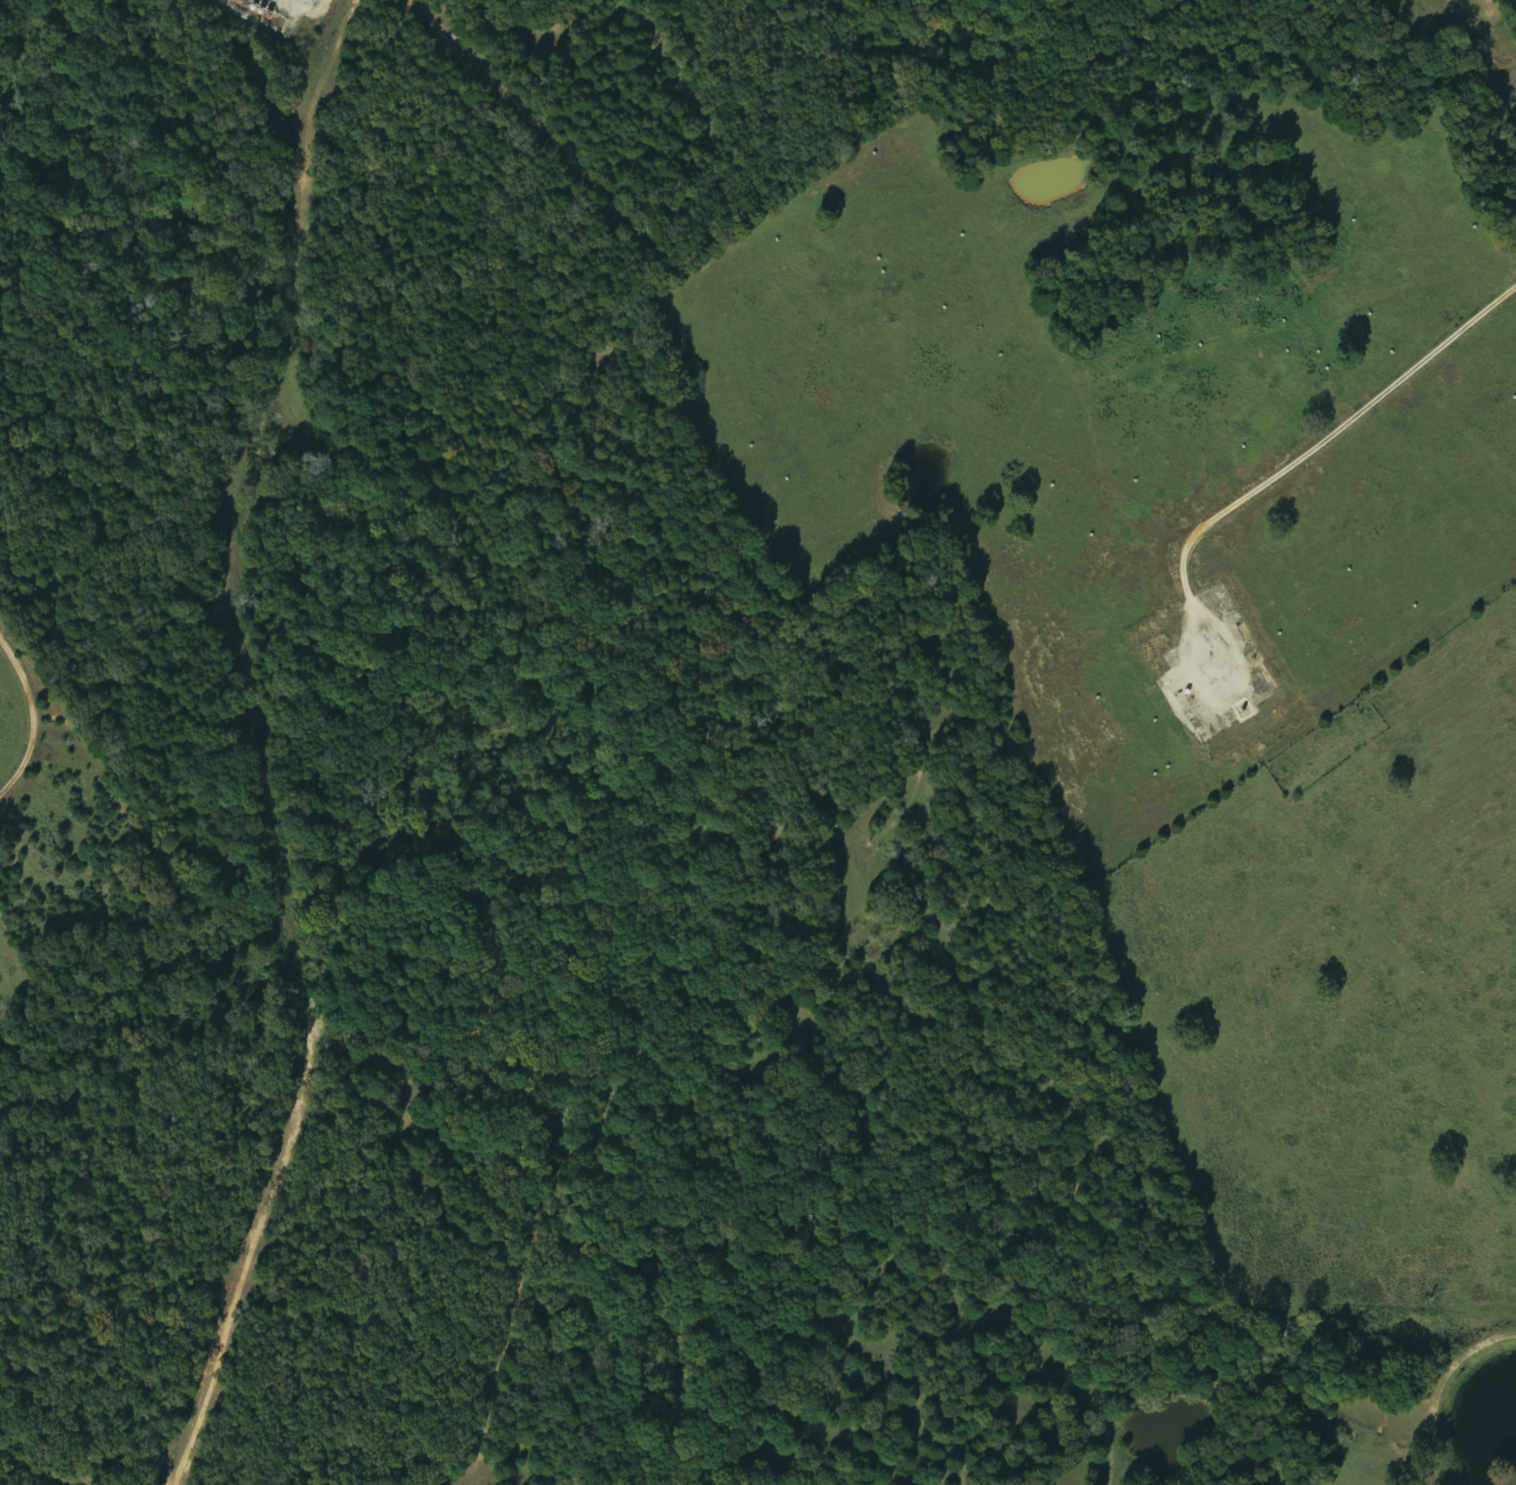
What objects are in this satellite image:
road: (1085, 1450)

